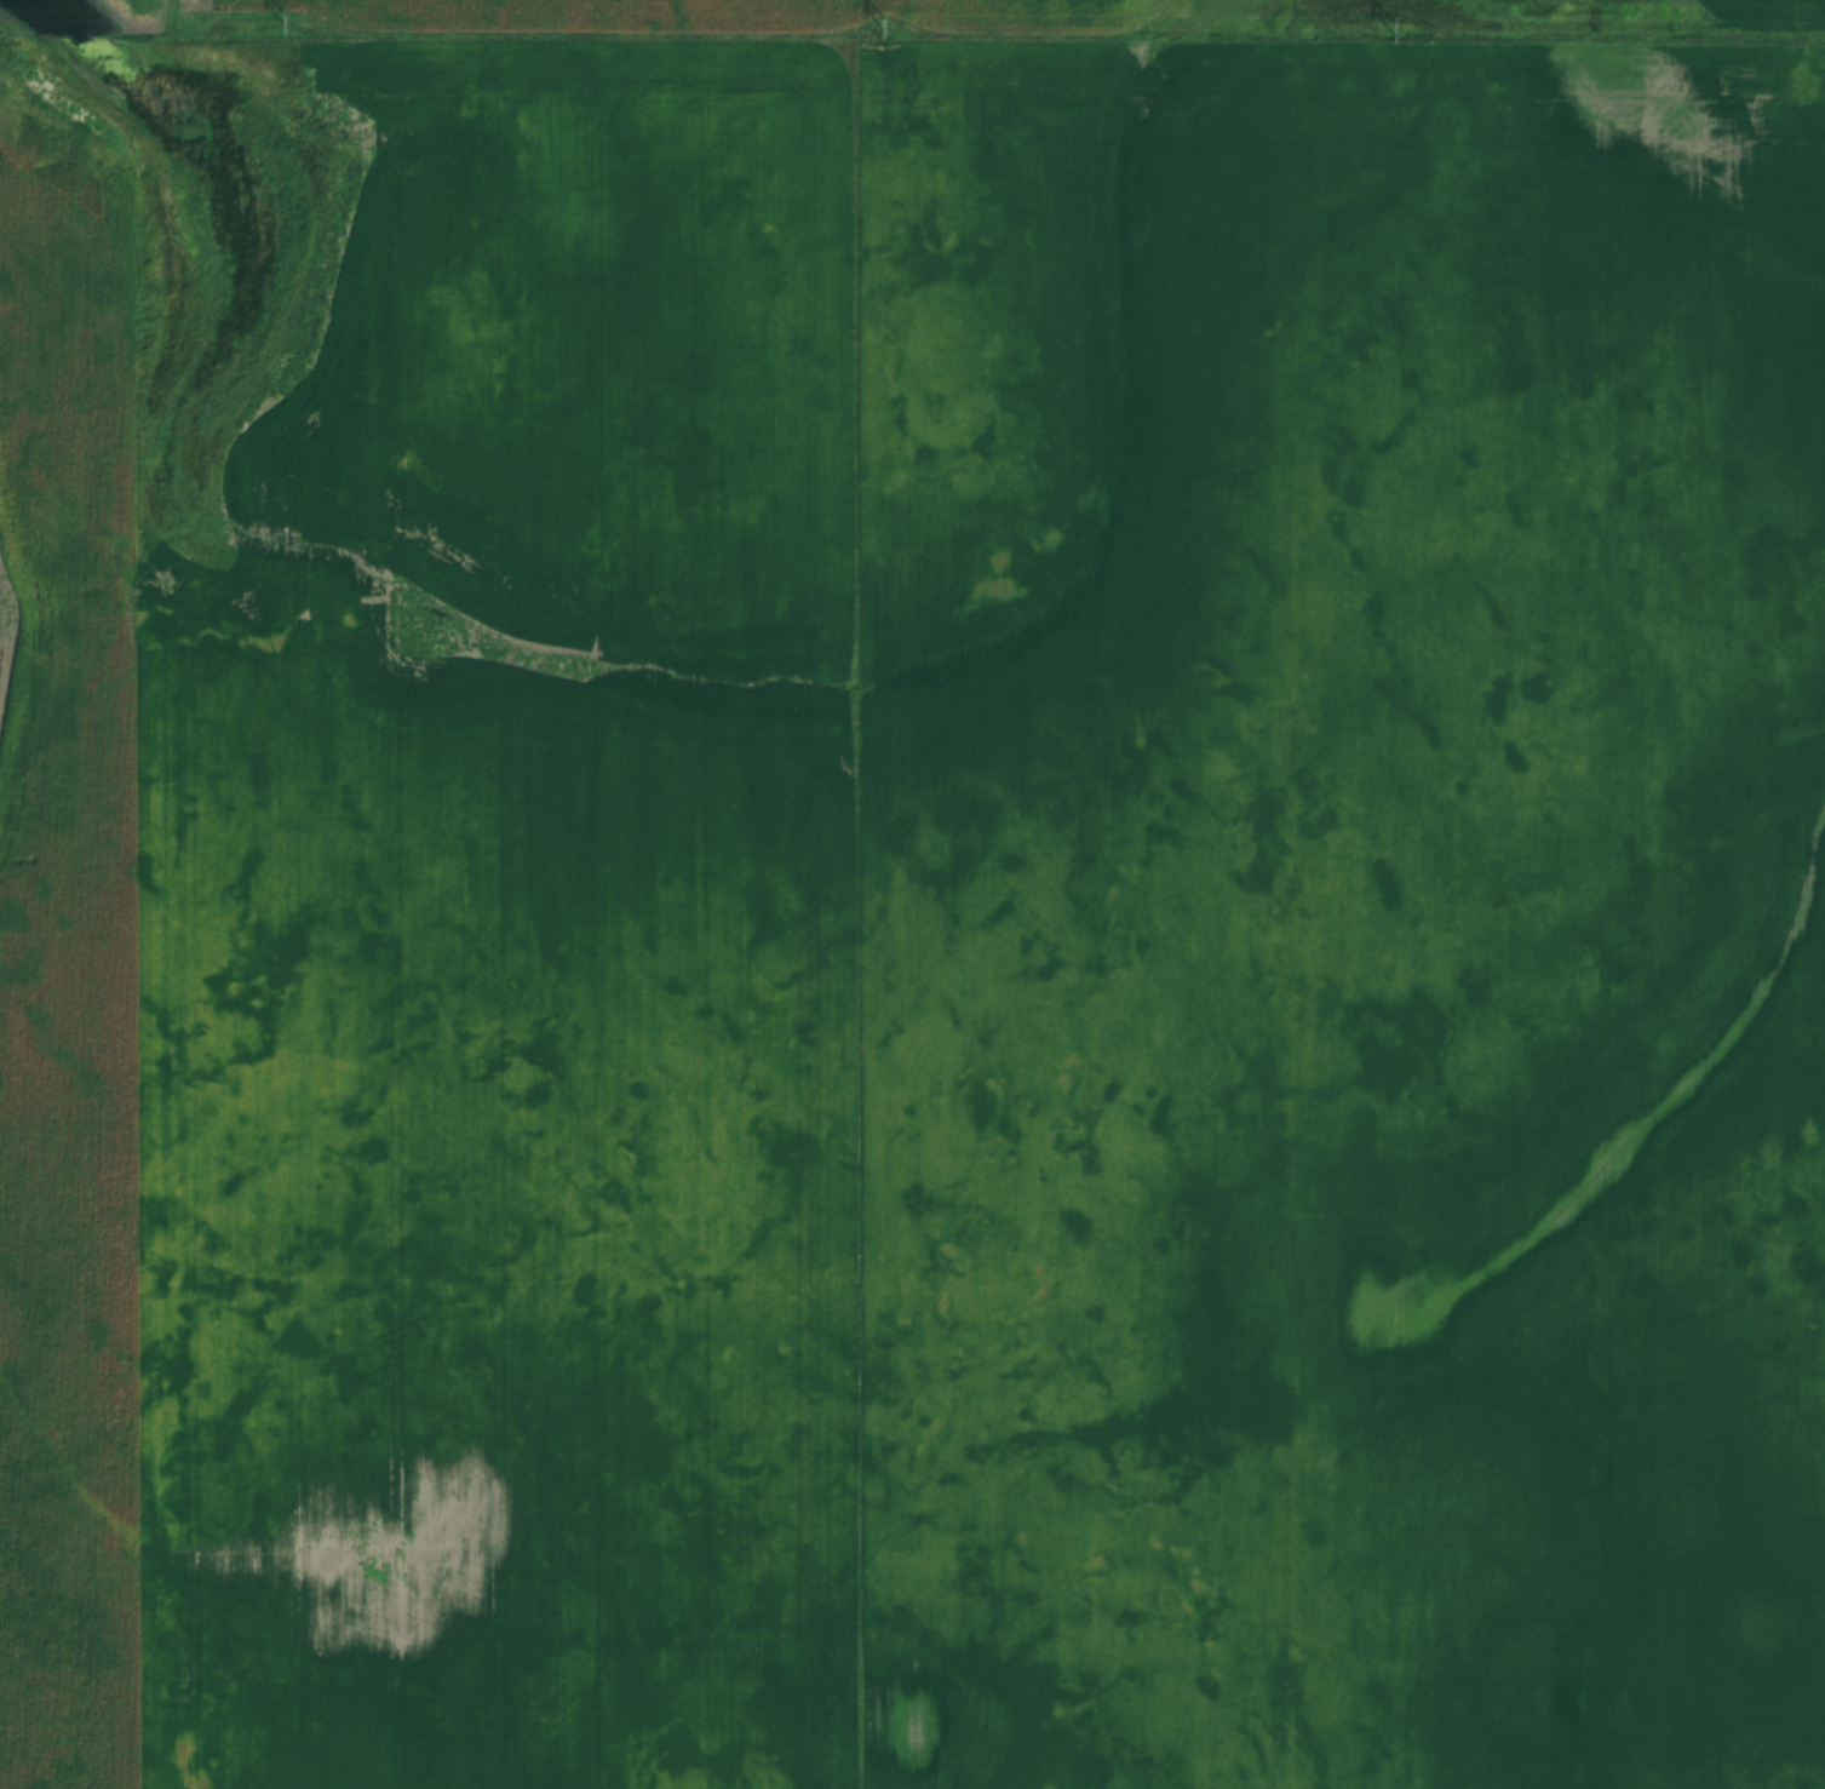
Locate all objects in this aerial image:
power tower: (288, 23)
power tower: (885, 27)
power tower: (1396, 30)
crop: (1199, 752)

